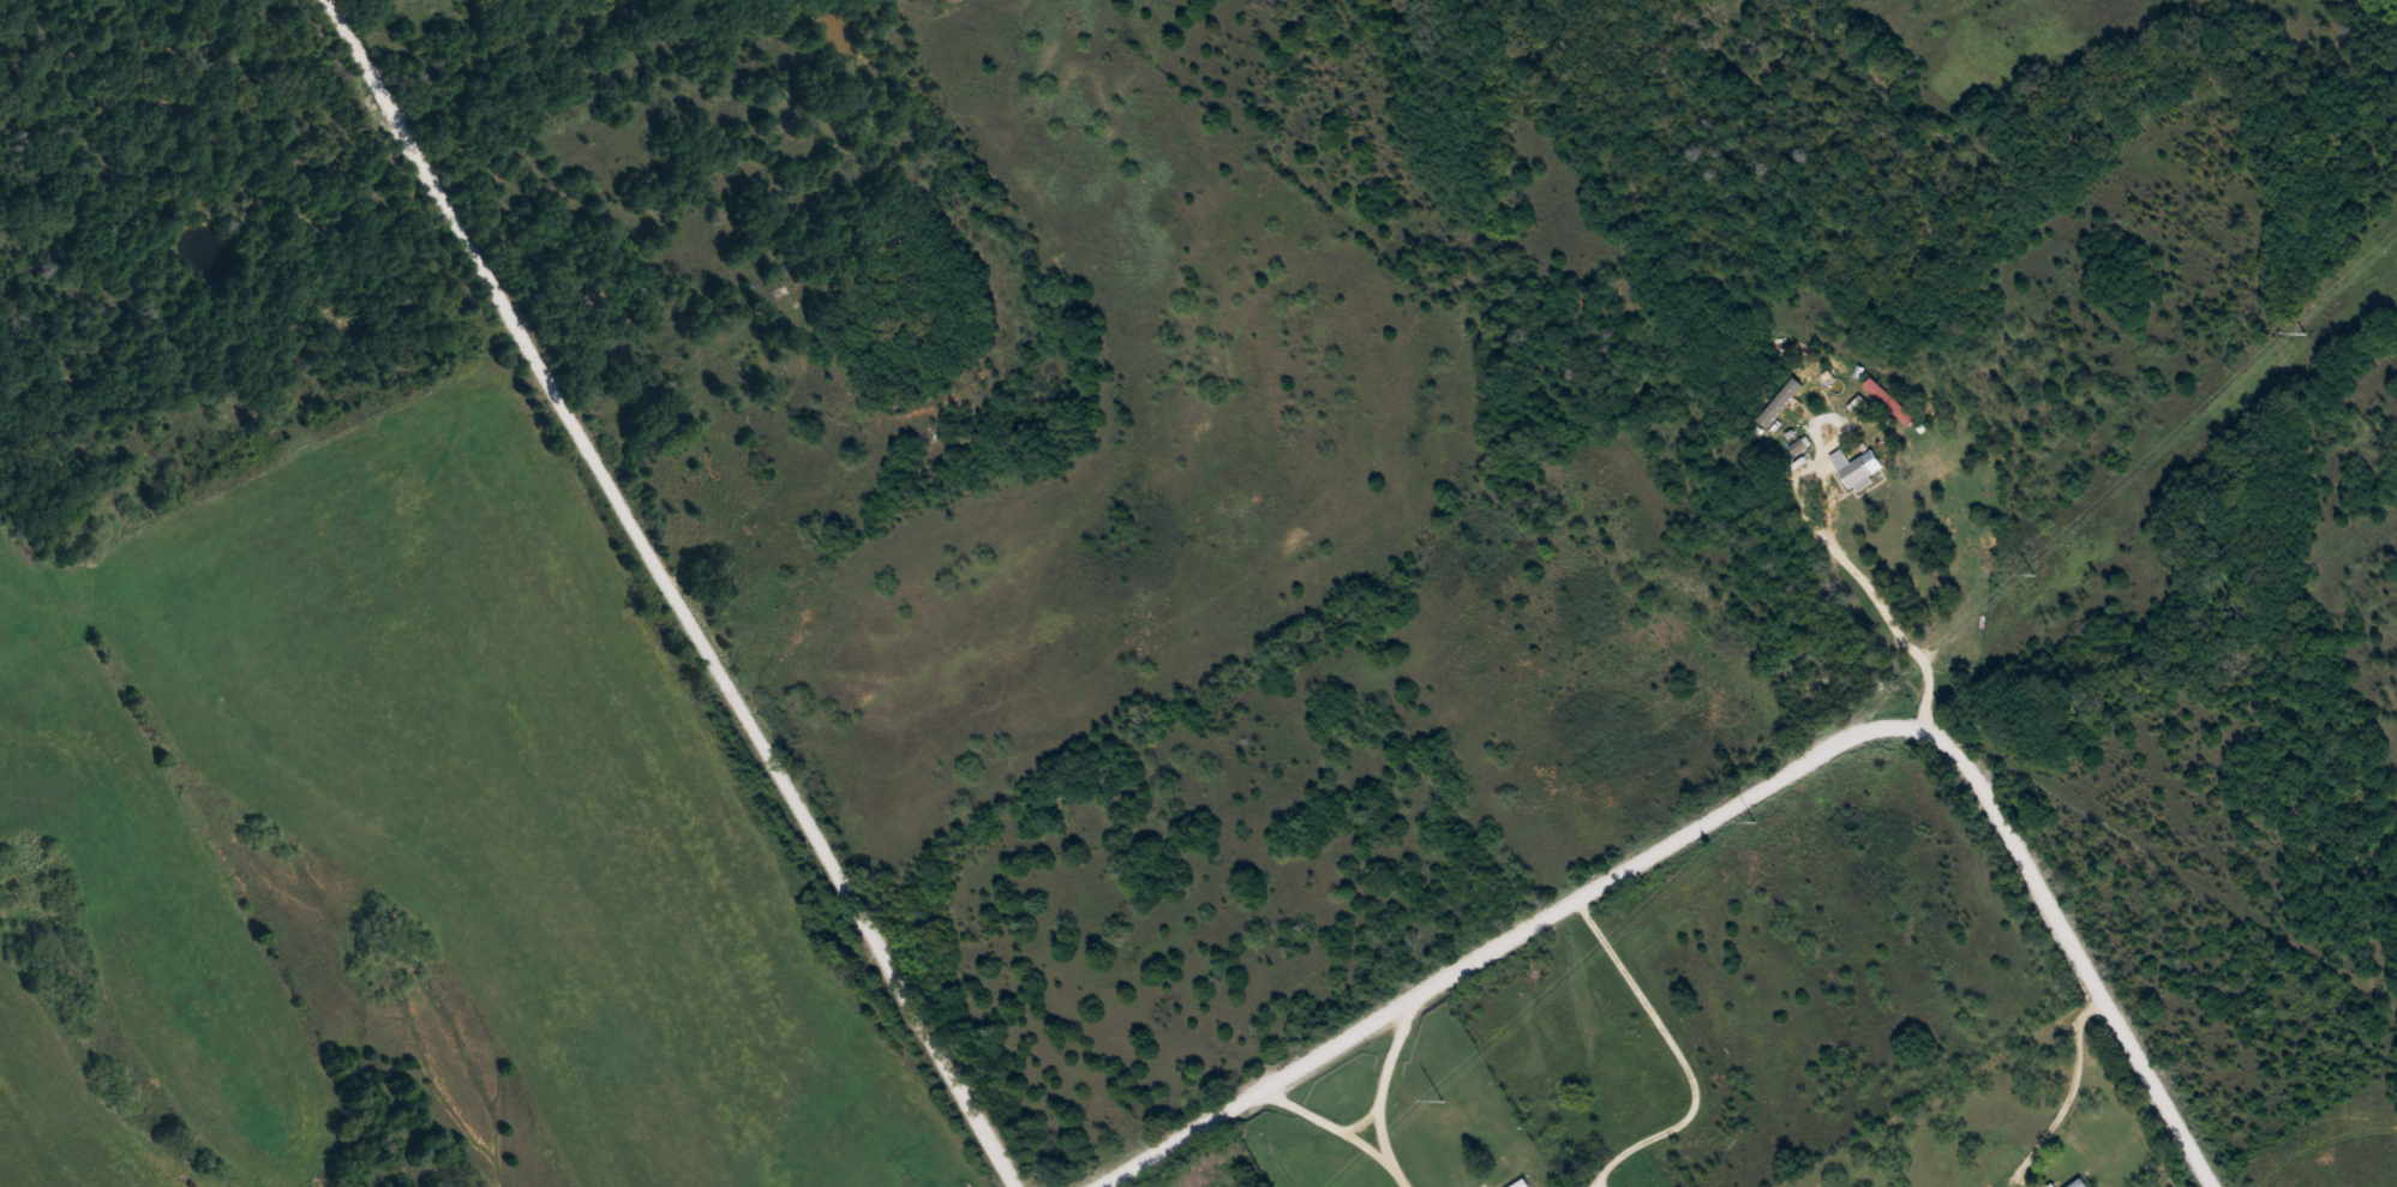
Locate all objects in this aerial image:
building: (1859, 469)
road: (678, 594)
road: (1749, 804)

